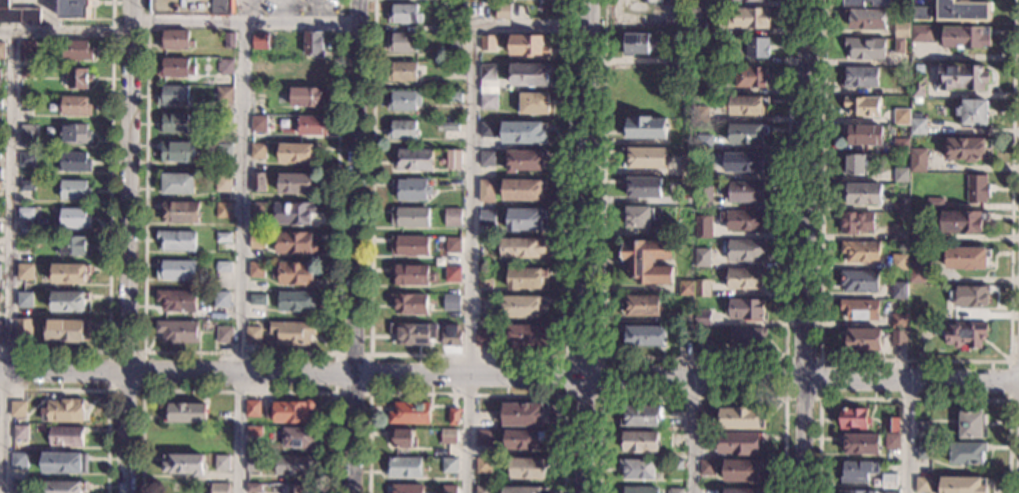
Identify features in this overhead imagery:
building: (747, 0)
building: (884, 4)
building: (192, 7)
building: (469, 8)
building: (75, 9)
road: (245, 11)
road: (280, 11)
road: (314, 11)
building: (502, 11)
building: (962, 11)
building: (404, 14)
building: (921, 14)
building: (18, 15)
building: (714, 15)
parking lot: (285, 16)
building: (748, 18)
building: (866, 19)
road: (298, 23)
building: (438, 28)
building: (701, 28)
building: (901, 30)
road: (66, 32)
building: (923, 34)
building: (965, 38)
building: (175, 41)
building: (229, 41)
building: (262, 41)
building: (453, 41)
building: (403, 43)
building: (487, 43)
building: (635, 44)
building: (313, 45)
building: (527, 46)
building: (899, 46)
building: (756, 48)
building: (866, 49)
building: (75, 50)
building: (2, 51)
building: (27, 51)
building: (674, 62)
building: (260, 66)
building: (226, 67)
building: (176, 68)
building: (454, 68)
building: (311, 70)
building: (402, 72)
building: (487, 72)
building: (27, 73)
building: (691, 73)
building: (529, 74)
building: (0, 75)
building: (750, 77)
building: (963, 77)
building: (860, 78)
building: (76, 79)
building: (918, 86)
building: (174, 96)
building: (224, 96)
building: (307, 97)
building: (453, 97)
building: (0, 101)
building: (26, 101)
building: (404, 101)
building: (487, 102)
building: (533, 104)
building: (76, 106)
building: (746, 106)
building: (862, 106)
building: (972, 113)
building: (699, 115)
building: (901, 117)
building: (224, 123)
building: (175, 124)
building: (258, 124)
building: (311, 126)
building: (918, 126)
building: (447, 127)
building: (645, 128)
building: (486, 130)
building: (402, 131)
building: (28, 133)
building: (523, 133)
building: (747, 134)
building: (74, 135)
building: (863, 135)
building: (703, 143)
building: (900, 146)
building: (967, 149)
building: (224, 151)
building: (177, 152)
building: (258, 152)
building: (297, 153)
building: (645, 157)
building: (27, 159)
building: (413, 159)
building: (487, 159)
building: (452, 160)
building: (525, 161)
building: (918, 161)
building: (74, 162)
building: (745, 163)
building: (854, 165)
building: (688, 166)
building: (703, 171)
building: (0, 172)
building: (901, 176)
building: (258, 182)
building: (223, 183)
building: (297, 183)
building: (178, 184)
building: (1, 186)
building: (26, 186)
building: (642, 186)
building: (412, 189)
building: (978, 189)
building: (75, 190)
building: (522, 190)
building: (486, 191)
building: (744, 193)
building: (863, 194)
road: (472, 197)
building: (703, 198)
road: (239, 202)
building: (935, 203)
building: (900, 205)
building: (223, 210)
building: (181, 212)
building: (257, 212)
building: (294, 213)
building: (25, 214)
building: (409, 217)
building: (452, 217)
building: (486, 217)
building: (638, 217)
building: (73, 218)
building: (525, 220)
building: (743, 220)
building: (964, 221)
building: (857, 223)
building: (703, 227)
road: (110, 230)
building: (900, 233)
building: (223, 237)
building: (917, 237)
building: (0, 240)
building: (257, 240)
building: (177, 241)
building: (295, 243)
road: (128, 246)
road: (352, 246)
building: (409, 246)
building: (452, 246)
road: (588, 246)
road: (803, 246)
building: (73, 247)
building: (523, 248)
building: (746, 251)
building: (861, 252)
building: (702, 258)
building: (967, 259)
road: (5, 262)
building: (647, 262)
building: (900, 262)
building: (223, 267)
building: (257, 269)
building: (176, 270)
building: (0, 271)
building: (24, 272)
building: (917, 272)
building: (69, 273)
building: (295, 274)
building: (452, 274)
building: (412, 275)
building: (484, 278)
building: (526, 278)
building: (745, 279)
building: (859, 281)
building: (686, 288)
building: (701, 288)
building: (899, 290)
building: (911, 296)
building: (970, 296)
building: (221, 299)
building: (24, 300)
building: (258, 300)
building: (177, 301)
building: (69, 302)
building: (297, 302)
building: (451, 303)
building: (410, 304)
building: (641, 305)
building: (522, 307)
building: (744, 309)
building: (860, 310)
building: (684, 317)
building: (702, 318)
building: (899, 321)
building: (0, 330)
building: (23, 330)
building: (67, 330)
building: (178, 332)
building: (292, 333)
building: (413, 334)
building: (966, 334)
building: (224, 335)
building: (253, 335)
building: (684, 335)
building: (451, 336)
building: (526, 336)
building: (644, 336)
building: (702, 337)
building: (746, 337)
building: (898, 337)
building: (485, 339)
building: (863, 339)
road: (240, 353)
road: (335, 353)
road: (469, 354)
road: (600, 359)
road: (693, 360)
road: (914, 360)
road: (1014, 361)
road: (509, 378)
road: (1009, 380)
road: (105, 390)
road: (144, 390)
road: (238, 392)
road: (466, 394)
road: (818, 398)
road: (691, 399)
road: (913, 399)
building: (18, 409)
building: (253, 409)
building: (62, 411)
building: (290, 412)
building: (186, 413)
building: (410, 414)
building: (522, 415)
building: (640, 416)
building: (453, 417)
building: (675, 419)
building: (740, 419)
building: (854, 419)
building: (707, 420)
building: (891, 425)
building: (972, 425)
building: (923, 430)
building: (254, 431)
building: (20, 433)
road: (690, 436)
road: (906, 436)
building: (66, 437)
building: (448, 437)
building: (299, 438)
building: (483, 438)
building: (403, 439)
building: (523, 440)
building: (676, 440)
building: (707, 441)
building: (892, 441)
building: (639, 442)
building: (739, 443)
building: (860, 444)
building: (924, 451)
building: (967, 453)
building: (18, 460)
building: (65, 463)
building: (222, 463)
building: (254, 463)
building: (184, 464)
building: (294, 465)
building: (675, 465)
building: (449, 466)
building: (483, 466)
building: (706, 467)
building: (404, 468)
building: (527, 469)
building: (637, 469)
building: (742, 471)
building: (858, 472)
building: (888, 481)
building: (923, 485)
building: (962, 485)
building: (18, 486)
building: (64, 487)
building: (218, 488)
building: (254, 488)
building: (300, 488)
building: (408, 489)
building: (449, 489)
building: (483, 489)
building: (521, 490)
building: (641, 490)
building: (674, 490)
building: (742, 491)
building: (858, 492)
building: (891, 492)

